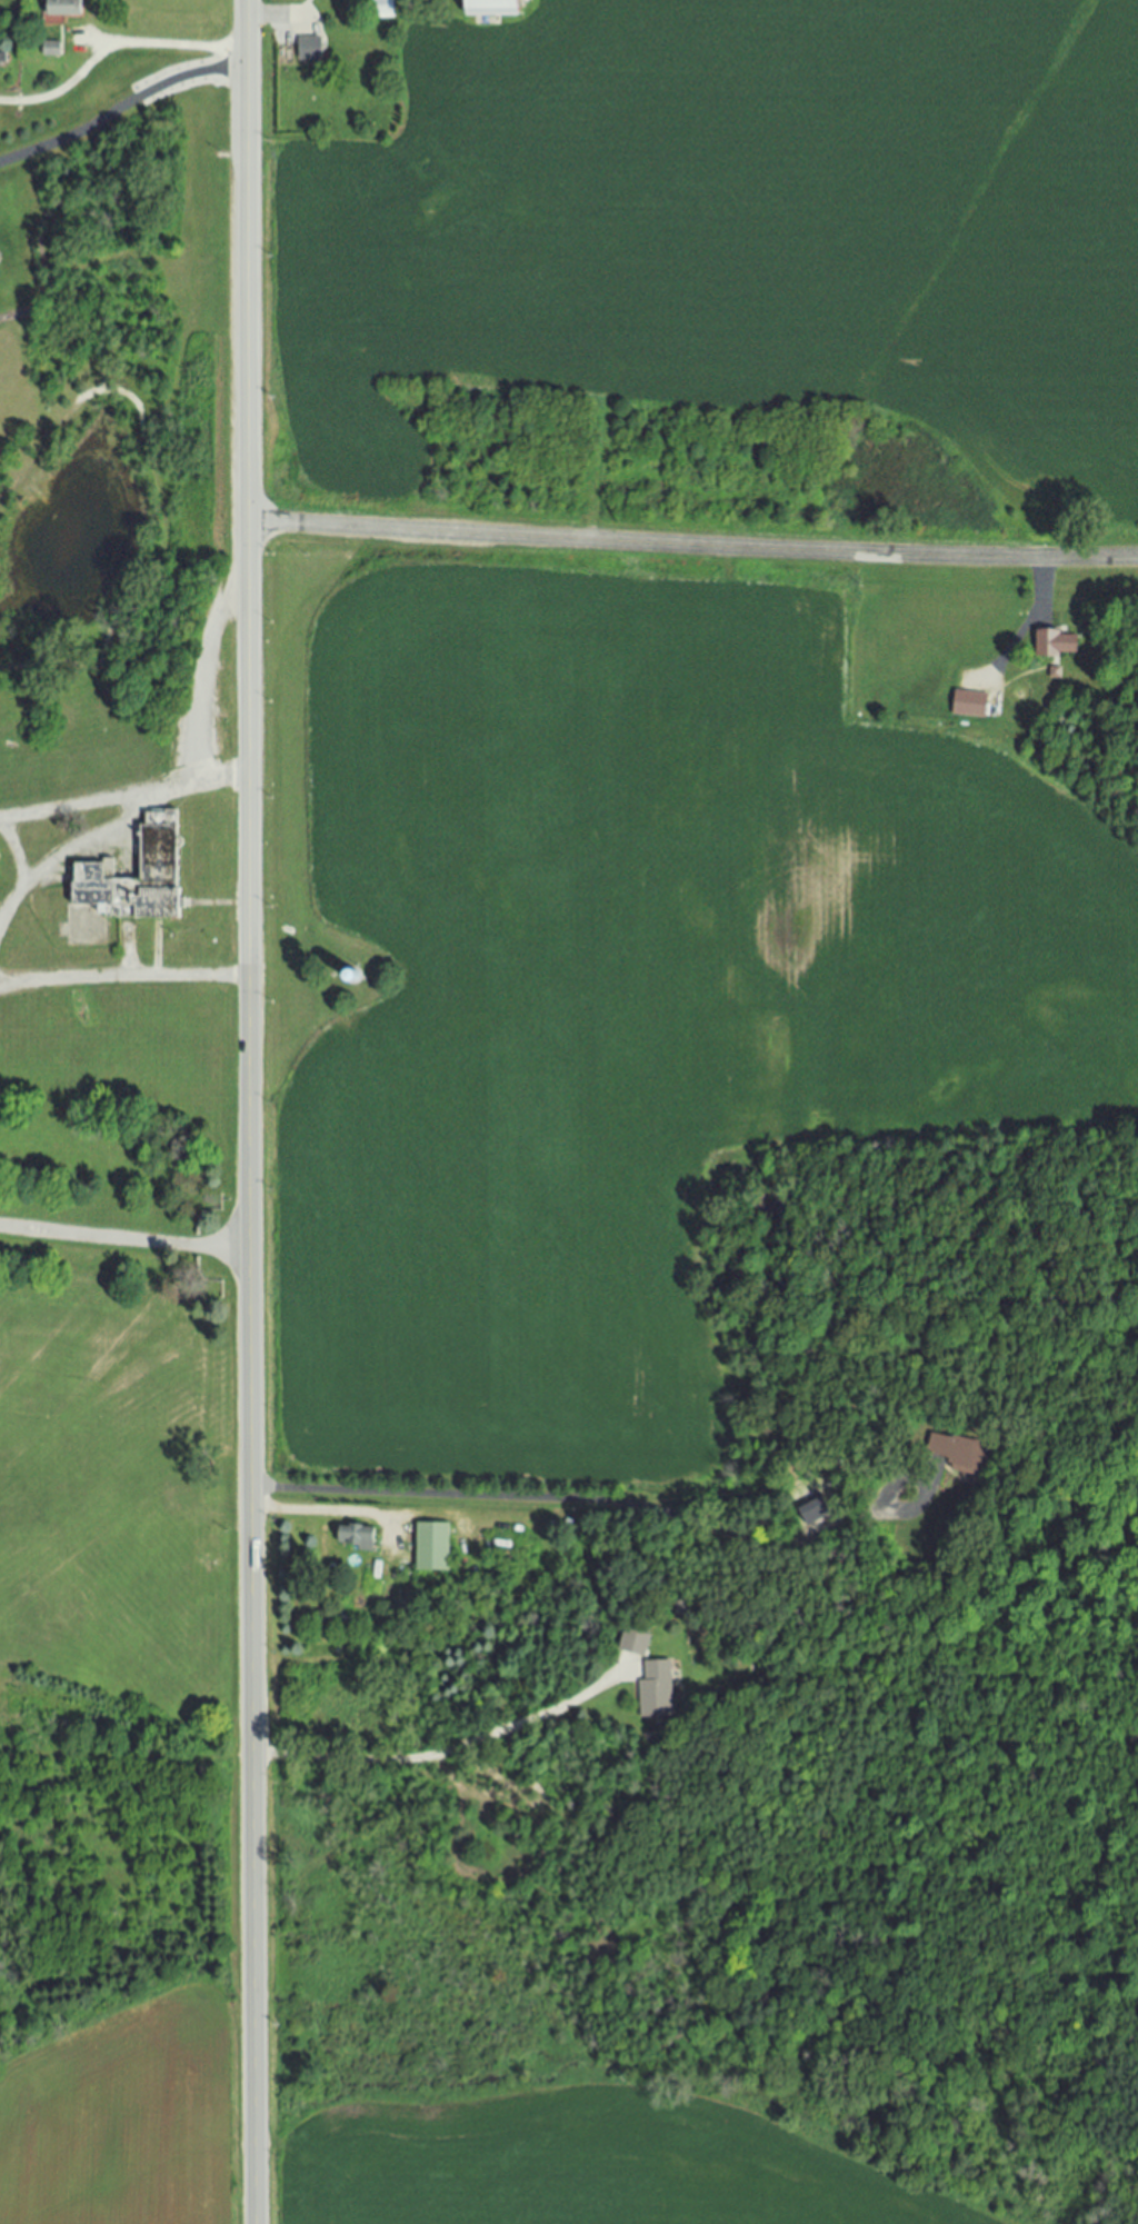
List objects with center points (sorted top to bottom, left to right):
building: (60, 8)
building: (485, 8)
building: (380, 9)
building: (308, 49)
building: (49, 50)
road: (122, 109)
road: (693, 546)
road: (1041, 585)
building: (1052, 646)
building: (968, 706)
road: (124, 795)
road: (20, 878)
building: (127, 889)
road: (250, 925)
road: (124, 979)
road: (126, 1238)
building: (956, 1455)
road: (638, 1505)
road: (325, 1512)
building: (810, 1512)
building: (352, 1538)
building: (429, 1548)
building: (629, 1644)
building: (652, 1692)
road: (443, 1749)
road: (252, 2037)

